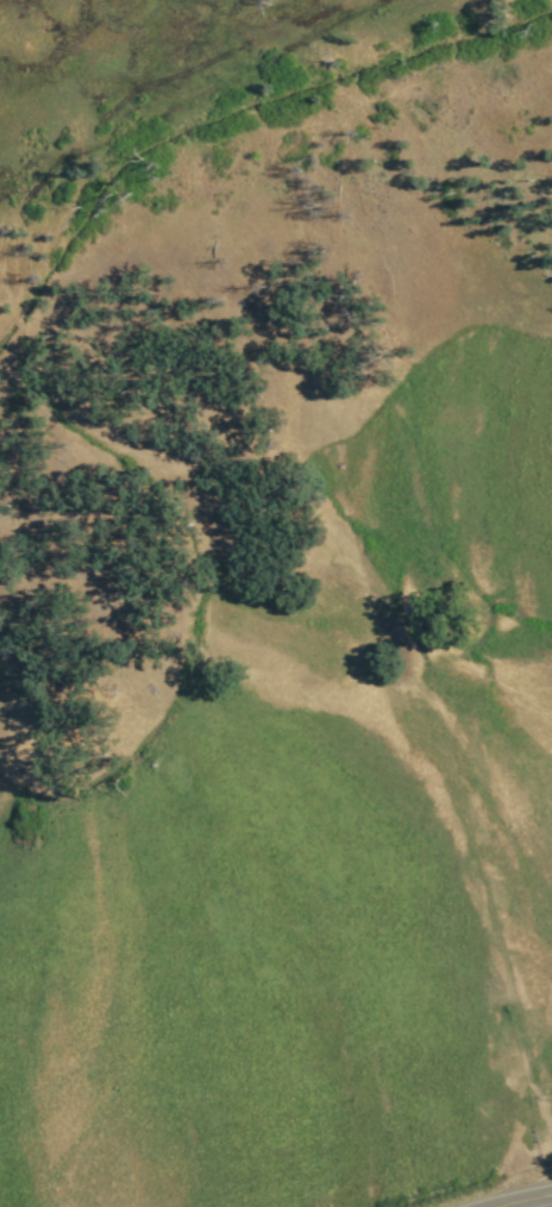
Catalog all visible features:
road: (521, 1201)

